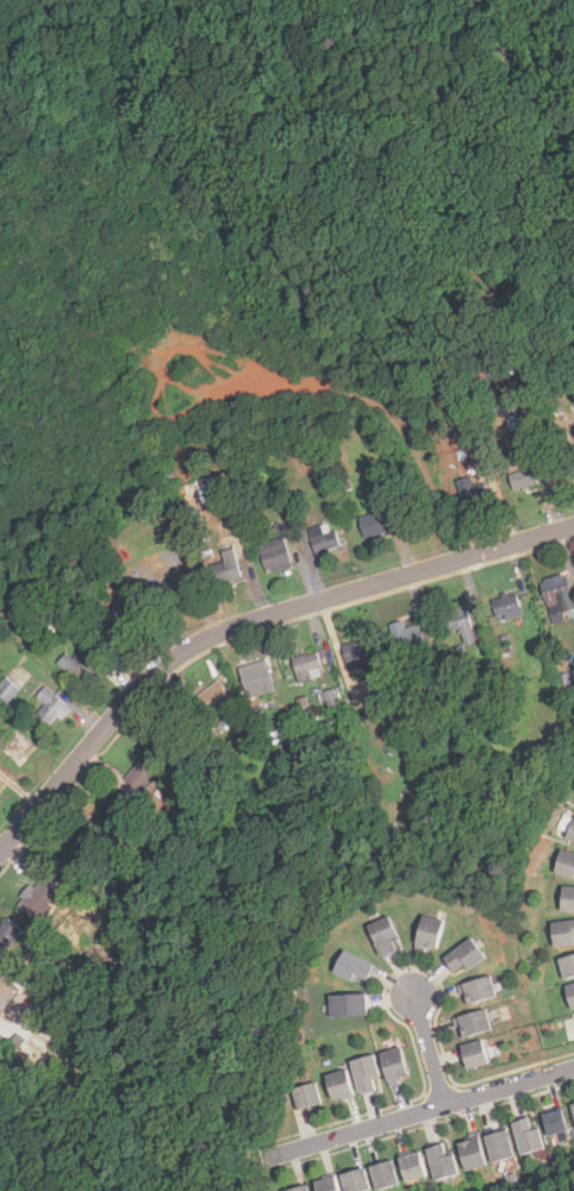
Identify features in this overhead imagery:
building: (567, 467)
building: (524, 478)
building: (207, 490)
building: (473, 494)
building: (374, 523)
building: (324, 538)
building: (275, 555)
building: (227, 567)
building: (174, 591)
building: (556, 591)
building: (507, 606)
building: (460, 622)
road: (245, 623)
building: (120, 628)
building: (406, 637)
building: (360, 656)
building: (86, 666)
building: (307, 667)
building: (260, 674)
building: (7, 690)
building: (331, 697)
building: (219, 699)
building: (51, 706)
building: (173, 734)
building: (141, 774)
building: (1, 785)
building: (108, 815)
building: (572, 835)
building: (566, 862)
building: (36, 898)
building: (567, 899)
building: (562, 931)
building: (8, 934)
building: (428, 934)
building: (383, 935)
building: (462, 956)
building: (567, 965)
building: (352, 966)
building: (1, 977)
building: (478, 989)
building: (570, 993)
building: (6, 996)
building: (348, 1004)
building: (472, 1022)
road: (430, 1050)
building: (474, 1053)
building: (394, 1064)
building: (366, 1071)
building: (339, 1084)
building: (306, 1095)
road: (422, 1114)
building: (557, 1120)
building: (529, 1134)
building: (500, 1145)
building: (473, 1153)
building: (444, 1161)
building: (414, 1165)
building: (386, 1173)
building: (356, 1180)
building: (327, 1184)
building: (299, 1187)

